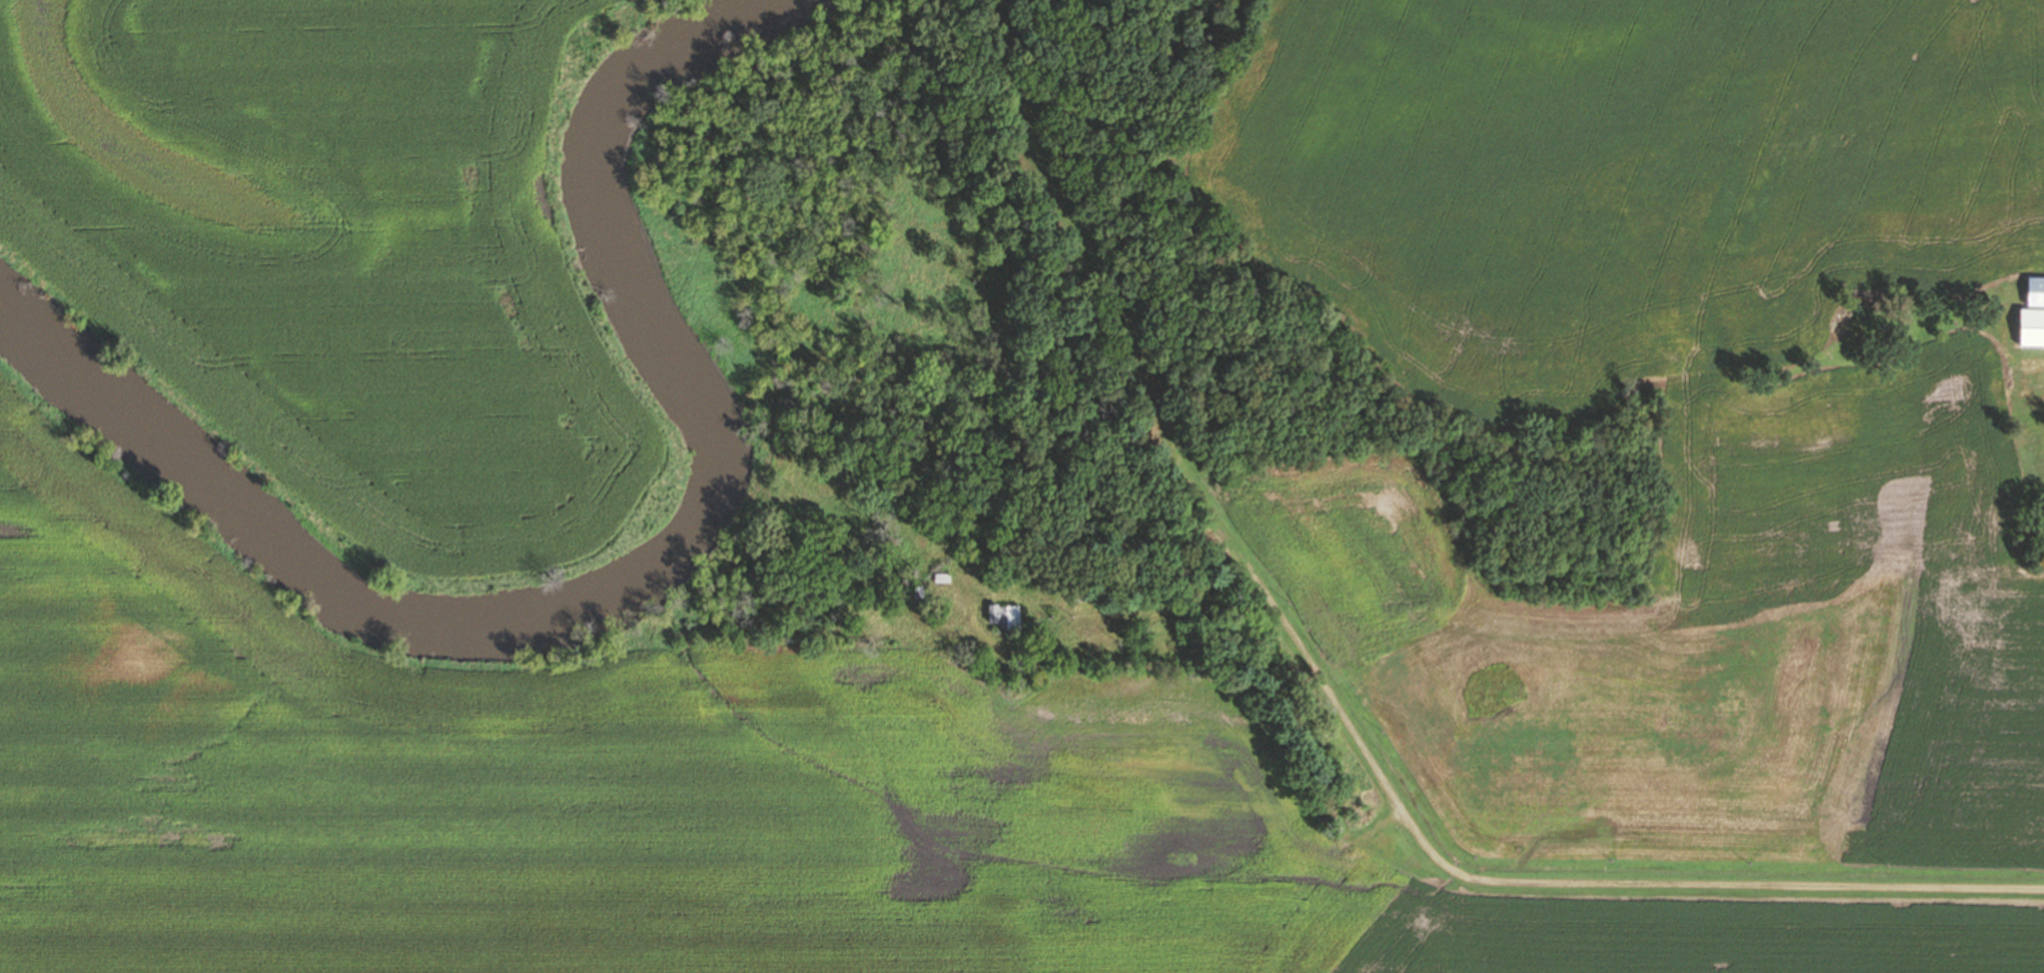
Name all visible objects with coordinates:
road: (1106, 293)
building: (2035, 293)
building: (2031, 328)
building: (2040, 393)
building: (943, 577)
river: (623, 579)
building: (1006, 616)
road: (1091, 641)
road: (1567, 882)

